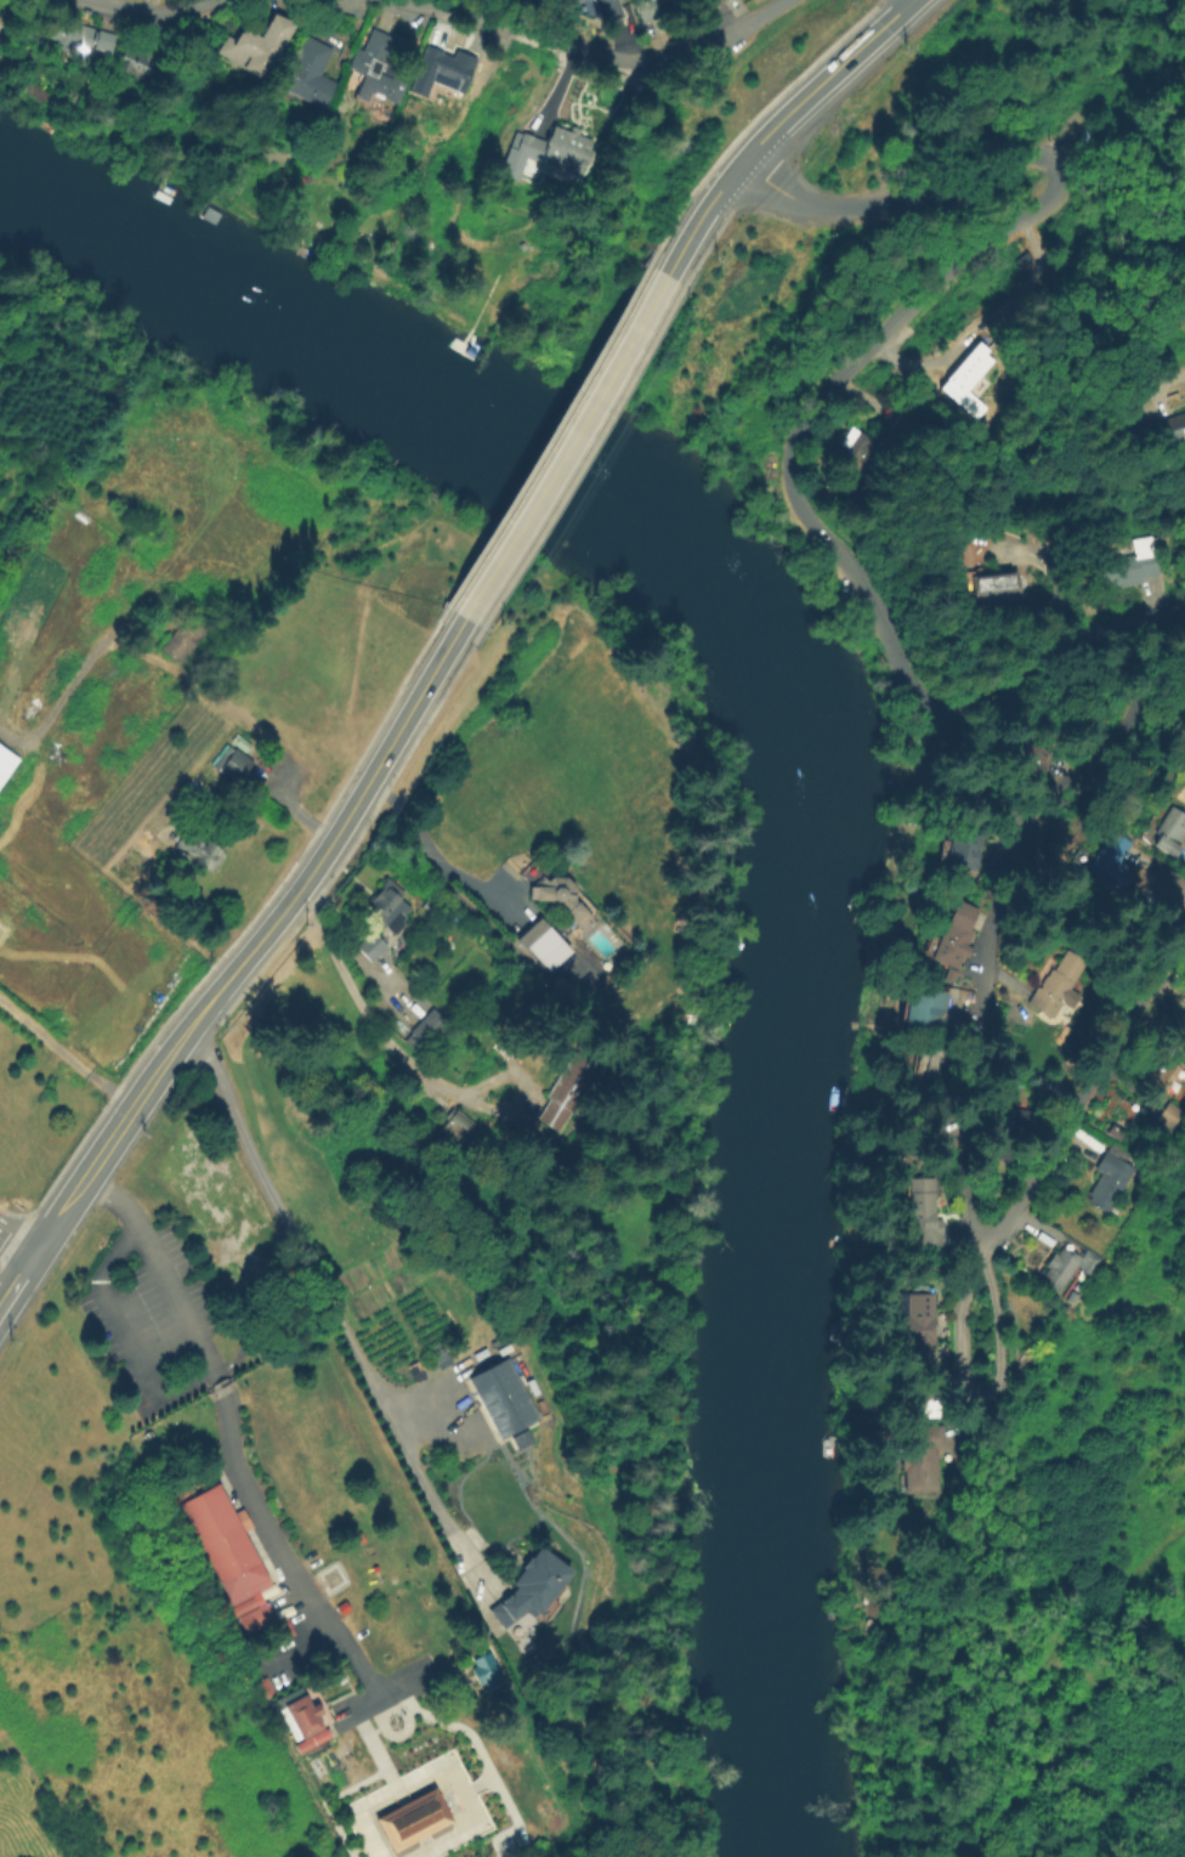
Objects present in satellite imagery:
building: (576, 1)
building: (721, 1)
building: (652, 9)
building: (607, 10)
road: (151, 11)
road: (905, 11)
building: (75, 35)
building: (253, 44)
road: (591, 51)
building: (136, 63)
building: (448, 69)
building: (378, 70)
building: (308, 74)
road: (803, 103)
building: (551, 153)
road: (697, 227)
river: (352, 336)
building: (963, 380)
road: (835, 384)
building: (1170, 429)
building: (900, 430)
road: (567, 449)
building: (858, 449)
building: (1130, 566)
building: (991, 589)
building: (181, 639)
building: (1027, 757)
building: (5, 760)
building: (233, 764)
road: (340, 832)
building: (1169, 832)
building: (200, 850)
road: (430, 856)
building: (960, 856)
building: (1109, 864)
building: (389, 907)
building: (556, 921)
building: (951, 945)
building: (372, 947)
building: (1056, 984)
building: (925, 1013)
building: (427, 1031)
road: (67, 1057)
road: (413, 1068)
building: (929, 1076)
building: (1161, 1078)
building: (569, 1093)
road: (958, 1098)
building: (1163, 1116)
building: (461, 1130)
building: (1008, 1132)
road: (117, 1136)
river: (795, 1176)
building: (1110, 1178)
building: (922, 1208)
road: (17, 1246)
building: (1067, 1267)
road: (27, 1269)
road: (310, 1272)
road: (10, 1295)
building: (918, 1327)
road: (124, 1334)
road: (975, 1395)
building: (504, 1402)
building: (932, 1402)
road: (231, 1437)
building: (518, 1438)
building: (919, 1460)
building: (227, 1544)
building: (529, 1587)
building: (262, 1614)
building: (487, 1672)
building: (302, 1720)
building: (322, 1767)
building: (413, 1823)

